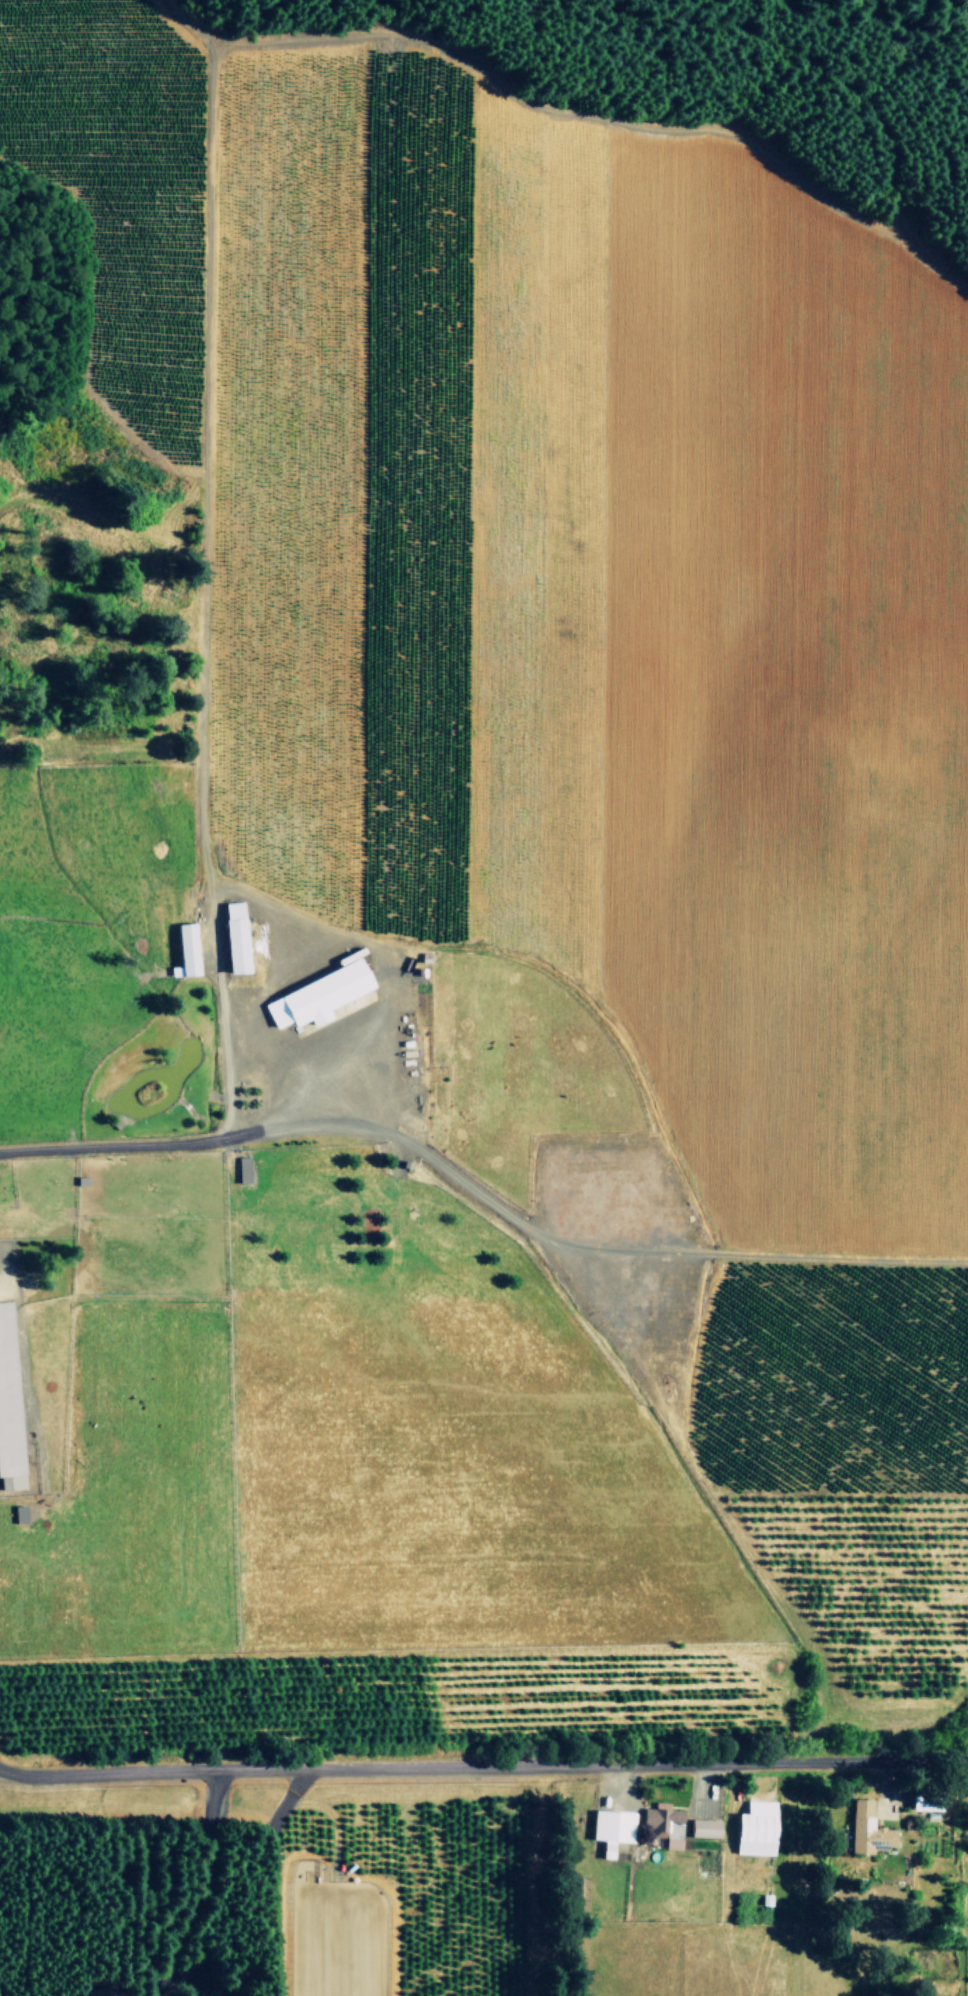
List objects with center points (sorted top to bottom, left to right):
road: (573, 118)
building: (236, 938)
building: (187, 951)
building: (318, 996)
crop: (464, 1059)
road: (478, 1198)
building: (9, 1407)
building: (19, 1514)
road: (483, 1768)
building: (922, 1802)
building: (665, 1824)
building: (612, 1827)
building: (705, 1828)
building: (757, 1828)
building: (868, 1829)
building: (104, 1991)
building: (197, 1995)

